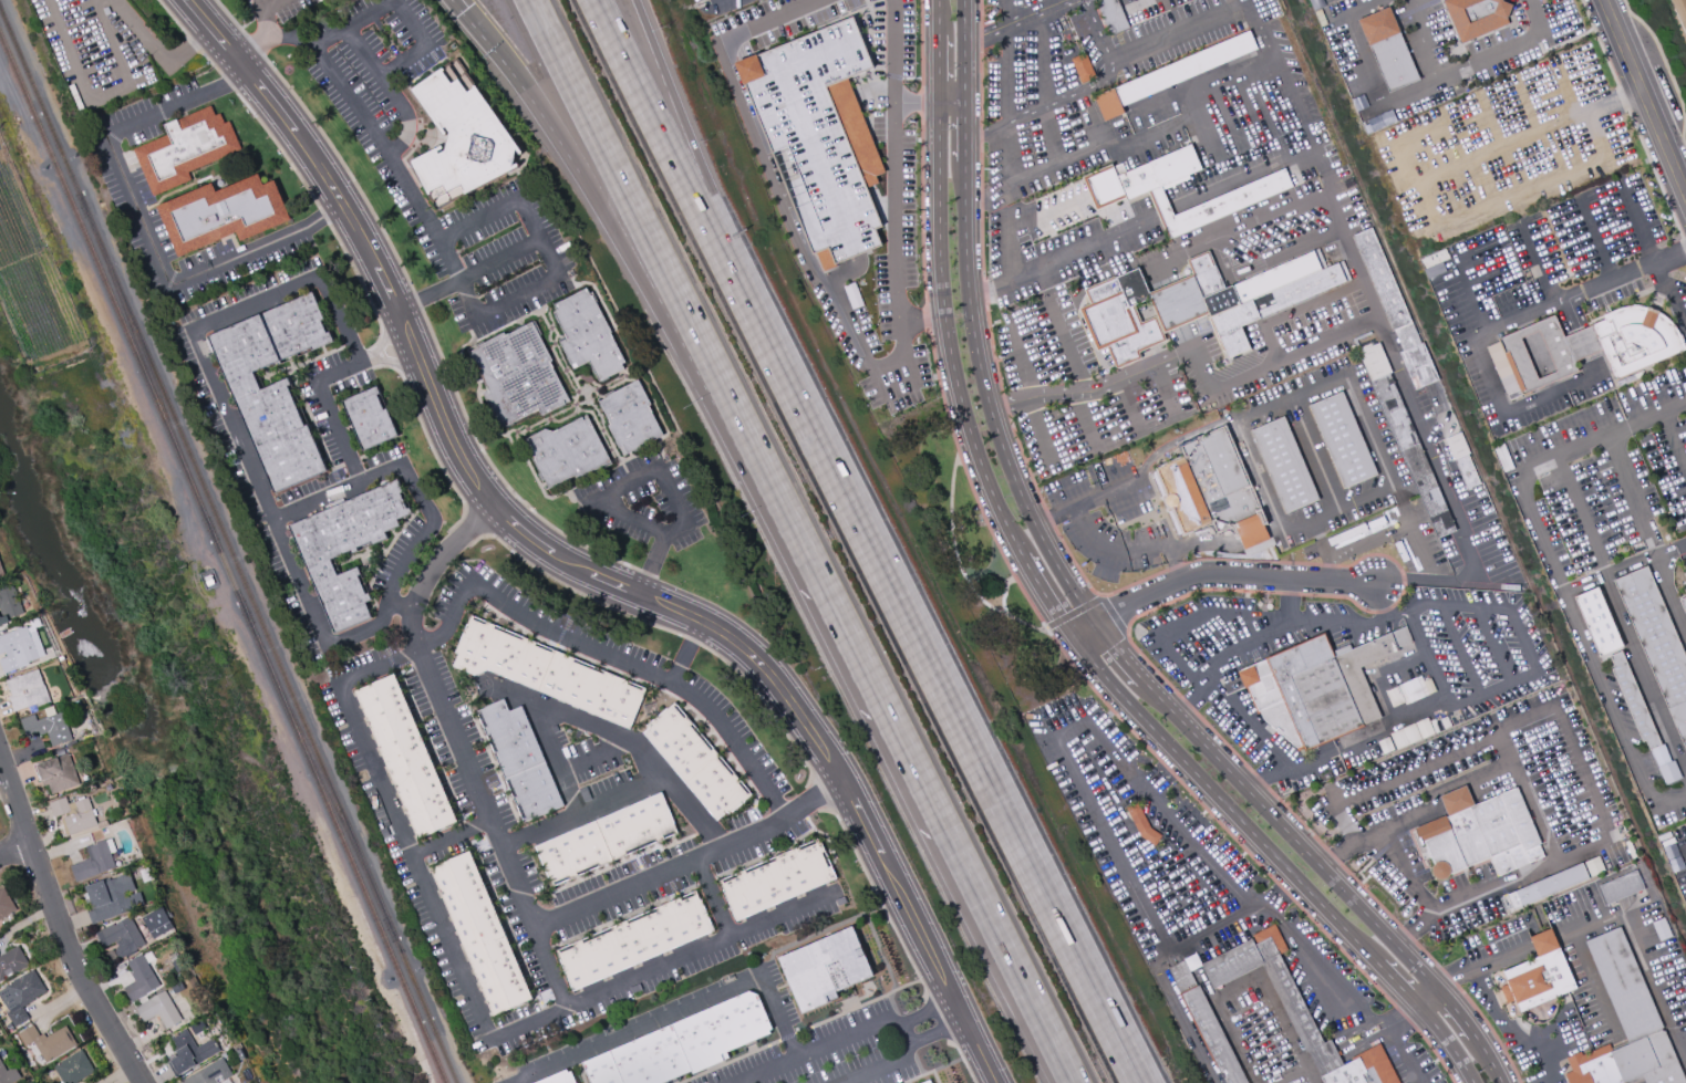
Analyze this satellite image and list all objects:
road: (1234, 1)
building: (1317, 3)
road: (265, 4)
road: (275, 4)
road: (1136, 4)
road: (169, 14)
building: (1111, 15)
building: (1476, 15)
road: (230, 17)
road: (250, 17)
road: (939, 17)
building: (1321, 18)
road: (1017, 20)
road: (411, 23)
road: (1256, 27)
road: (1095, 28)
road: (1173, 28)
road: (266, 37)
road: (1423, 38)
road: (193, 42)
road: (292, 42)
road: (153, 44)
road: (255, 46)
road: (1506, 46)
parking lot: (103, 50)
building: (1388, 50)
road: (964, 51)
road: (1110, 61)
road: (1006, 62)
road: (324, 64)
road: (1369, 64)
road: (211, 65)
building: (1082, 67)
road: (1667, 67)
road: (939, 69)
road: (894, 72)
building: (1173, 73)
road: (230, 77)
road: (228, 84)
road: (1044, 86)
road: (1510, 92)
road: (875, 93)
road: (103, 97)
road: (1063, 98)
road: (1165, 98)
road: (1643, 98)
railway: (41, 104)
road: (951, 104)
road: (964, 133)
road: (986, 133)
building: (461, 135)
road: (691, 135)
building: (819, 136)
road: (669, 137)
building: (187, 149)
road: (1061, 155)
road: (346, 170)
road: (768, 173)
road: (1263, 174)
building: (1349, 181)
building: (1124, 191)
road: (1009, 201)
road: (880, 207)
building: (224, 212)
road: (604, 214)
road: (638, 218)
road: (314, 219)
road: (144, 222)
road: (1640, 223)
road: (1242, 230)
road: (893, 231)
road: (536, 236)
building: (1565, 243)
road: (1596, 243)
road: (1090, 244)
building: (1435, 258)
road: (499, 260)
road: (841, 273)
road: (1625, 275)
crop: (32, 283)
railway: (105, 283)
road: (434, 293)
road: (1047, 293)
building: (854, 294)
road: (1478, 296)
road: (1671, 296)
road: (417, 301)
building: (1199, 302)
building: (1396, 310)
road: (401, 314)
road: (1572, 315)
road: (922, 317)
road: (949, 332)
building: (588, 335)
building: (1636, 340)
building: (1582, 343)
road: (1584, 343)
road: (379, 345)
building: (1531, 358)
road: (383, 360)
road: (1020, 362)
railway: (146, 365)
road: (1593, 365)
road: (1262, 368)
building: (517, 374)
road: (1346, 375)
road: (1489, 376)
building: (275, 386)
road: (1168, 390)
road: (1130, 402)
road: (989, 404)
road: (1004, 404)
road: (1084, 414)
road: (1648, 415)
building: (629, 417)
building: (370, 419)
road: (1042, 429)
building: (1406, 435)
building: (1343, 440)
road: (1672, 441)
building: (566, 451)
road: (1314, 452)
building: (1503, 457)
building: (1462, 459)
road: (1025, 464)
building: (1285, 466)
road: (495, 470)
road: (665, 482)
building: (1204, 485)
road: (1635, 488)
road: (316, 492)
road: (1449, 501)
parking lot: (606, 511)
road: (1047, 518)
road: (1408, 522)
building: (1251, 531)
road: (1322, 539)
road: (1222, 542)
road: (1359, 545)
building: (348, 549)
road: (1132, 550)
building: (1685, 554)
road: (1251, 560)
road: (587, 561)
railway: (237, 565)
road: (1325, 565)
road: (1175, 566)
building: (1, 569)
road: (555, 569)
railway: (227, 571)
road: (643, 572)
road: (1227, 576)
building: (1685, 576)
road: (1664, 577)
road: (304, 579)
road: (1094, 592)
road: (1045, 594)
road: (1090, 601)
road: (403, 602)
road: (1382, 602)
building: (1683, 603)
building: (9, 604)
road: (1573, 605)
road: (1620, 612)
road: (1202, 617)
building: (1600, 622)
building: (37, 623)
road: (1083, 632)
road: (844, 637)
building: (1657, 642)
road: (1493, 646)
building: (20, 648)
road: (1462, 650)
road: (1117, 653)
road: (610, 655)
road: (684, 656)
road: (1428, 662)
building: (547, 671)
road: (938, 678)
building: (1316, 688)
building: (28, 691)
building: (1409, 691)
road: (1192, 700)
road: (1187, 705)
building: (1638, 710)
road: (1421, 719)
road: (588, 721)
building: (49, 726)
road: (1222, 742)
building: (1384, 746)
road: (554, 754)
building: (404, 756)
road: (598, 757)
road: (1442, 757)
road: (1496, 757)
building: (519, 760)
building: (697, 762)
road: (1124, 763)
railway: (318, 771)
building: (59, 773)
road: (1254, 777)
road: (1269, 777)
road: (623, 795)
road: (1589, 795)
road: (1219, 798)
road: (1456, 800)
building: (77, 816)
road: (1408, 821)
building: (1141, 824)
road: (1289, 833)
building: (1480, 834)
road: (451, 837)
building: (606, 840)
road: (13, 847)
railway: (344, 847)
road: (1554, 853)
road: (508, 858)
building: (95, 861)
road: (1403, 869)
building: (1590, 873)
building: (777, 881)
road: (1176, 884)
building: (1628, 884)
building: (1548, 886)
road: (714, 897)
building: (113, 898)
building: (6, 903)
road: (1620, 918)
building: (158, 923)
road: (58, 929)
building: (480, 933)
building: (123, 937)
building: (637, 941)
building: (1270, 943)
building: (111, 955)
road: (551, 958)
building: (12, 961)
road: (1011, 961)
building: (178, 962)
building: (1232, 964)
building: (825, 969)
building: (1539, 976)
road: (1258, 977)
building: (142, 978)
building: (1182, 978)
road: (1392, 979)
building: (196, 981)
building: (178, 988)
building: (22, 995)
road: (469, 996)
road: (1425, 996)
building: (1293, 1002)
railway: (424, 1007)
building: (161, 1010)
road: (1455, 1011)
road: (681, 1012)
road: (1500, 1017)
road: (1186, 1019)
building: (1626, 1024)
building: (199, 1028)
road: (910, 1030)
building: (1213, 1037)
building: (49, 1041)
road: (1447, 1041)
building: (683, 1044)
road: (1342, 1048)
road: (825, 1050)
road: (1400, 1052)
building: (190, 1053)
building: (1326, 1059)
road: (1487, 1060)
road: (883, 1063)
building: (1376, 1063)
building: (74, 1068)
building: (8, 1073)
building: (210, 1073)
building: (1353, 1074)
road: (1311, 1075)
building: (558, 1077)
building: (228, 1082)
building: (927, 1082)

